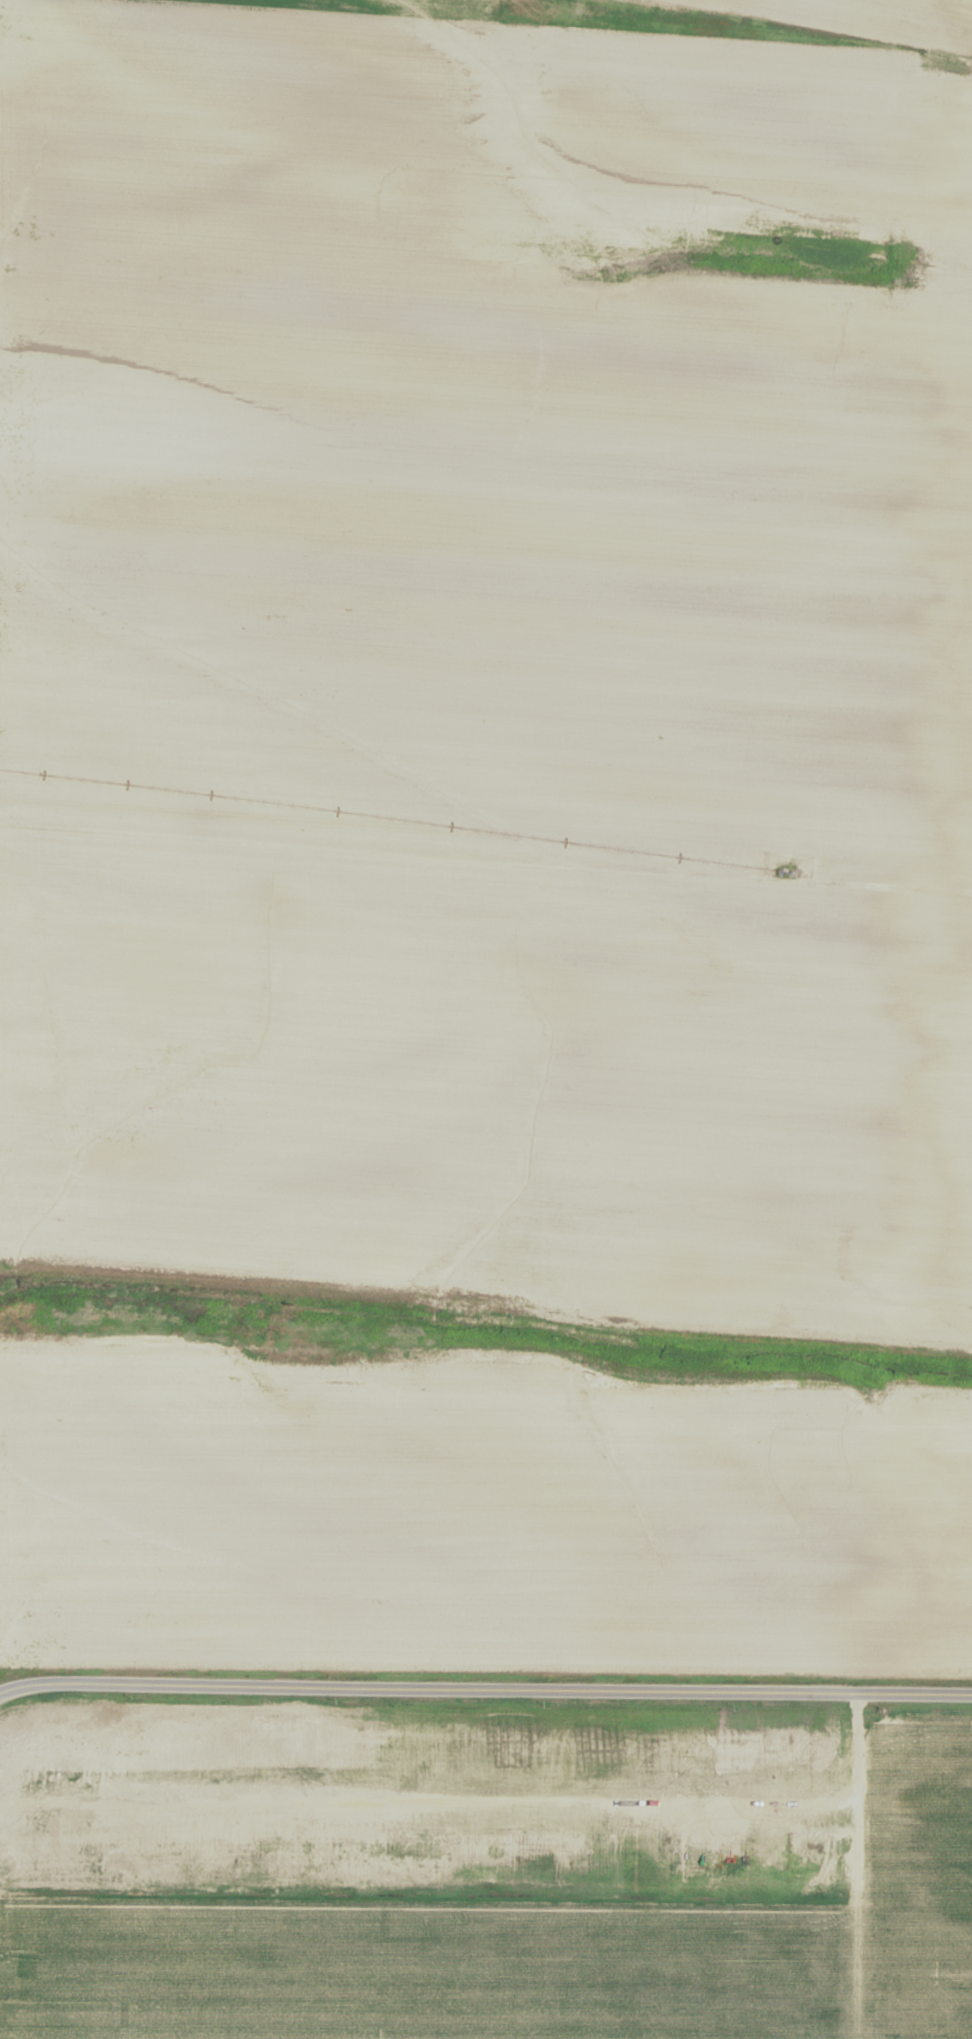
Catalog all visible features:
road: (485, 1691)

